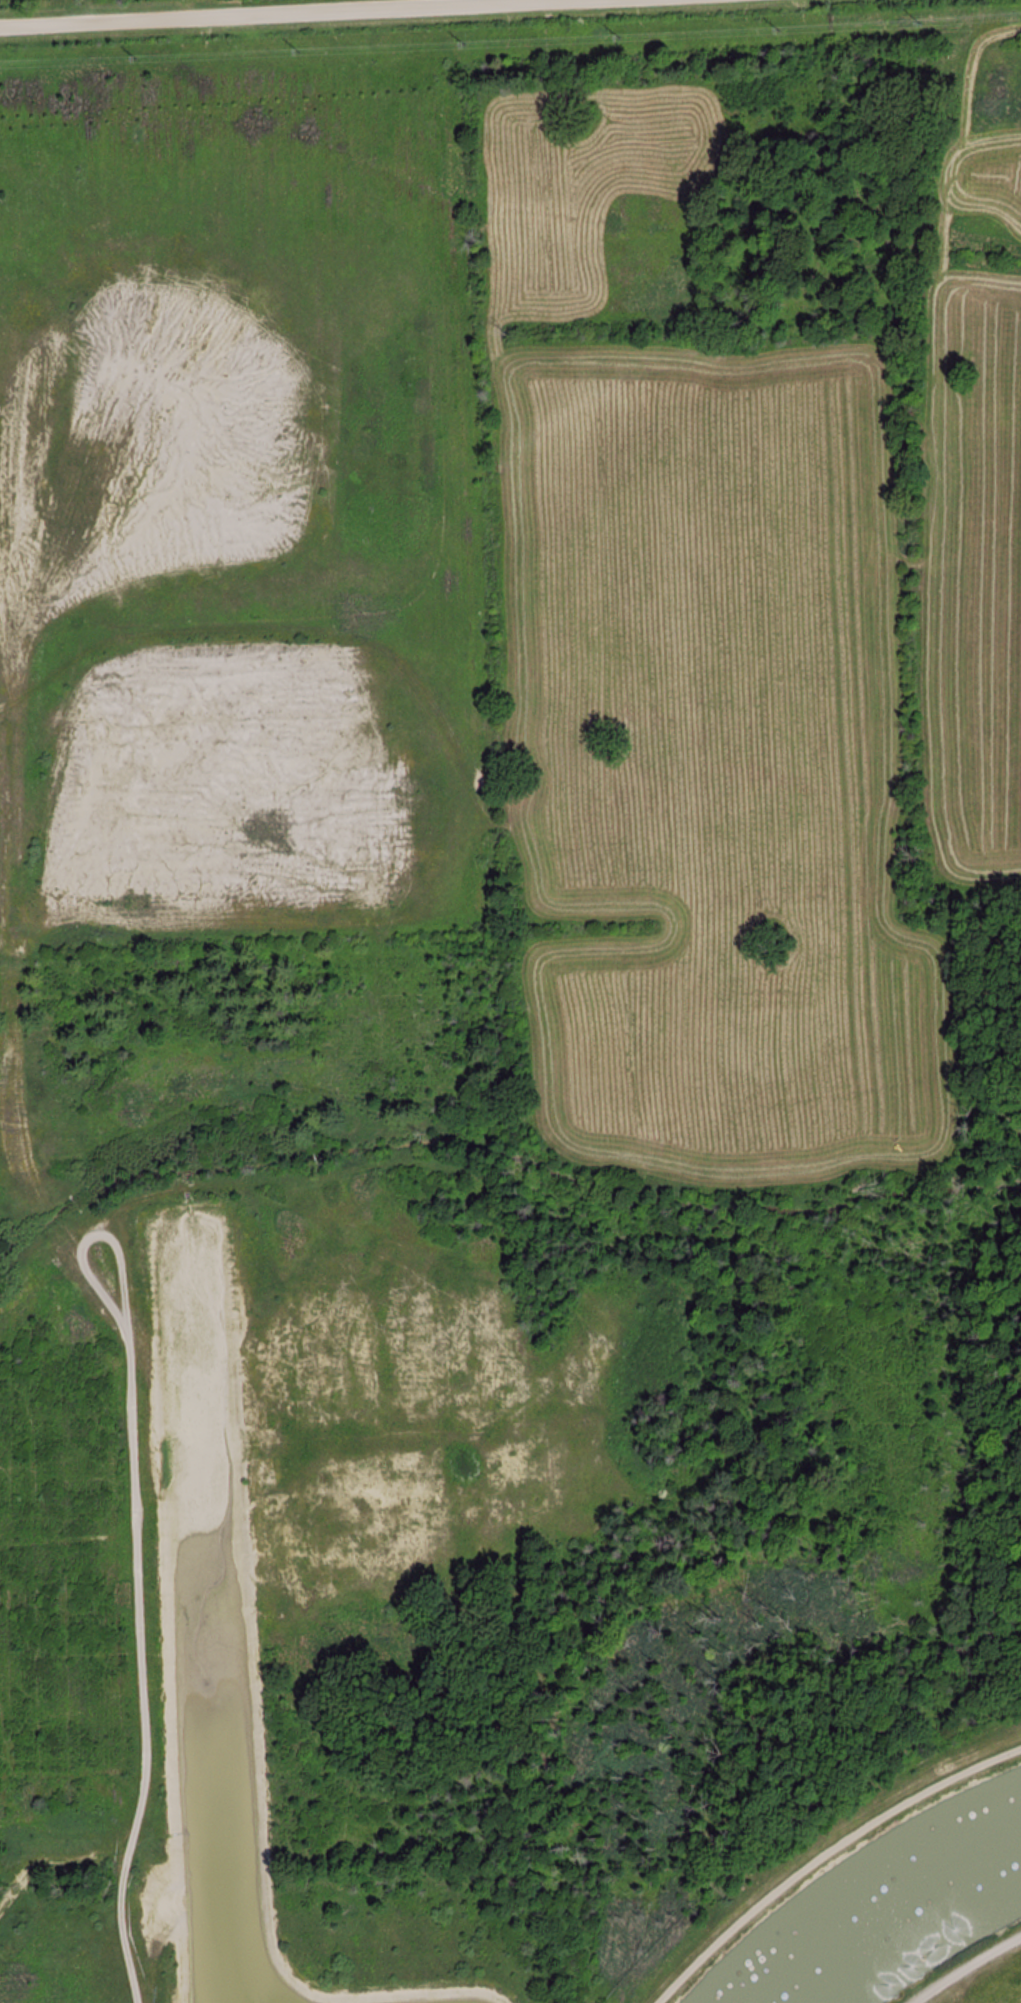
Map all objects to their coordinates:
road: (284, 13)
road: (96, 1236)
road: (144, 1671)
road: (826, 1855)
building: (890, 1906)
road: (968, 1970)

